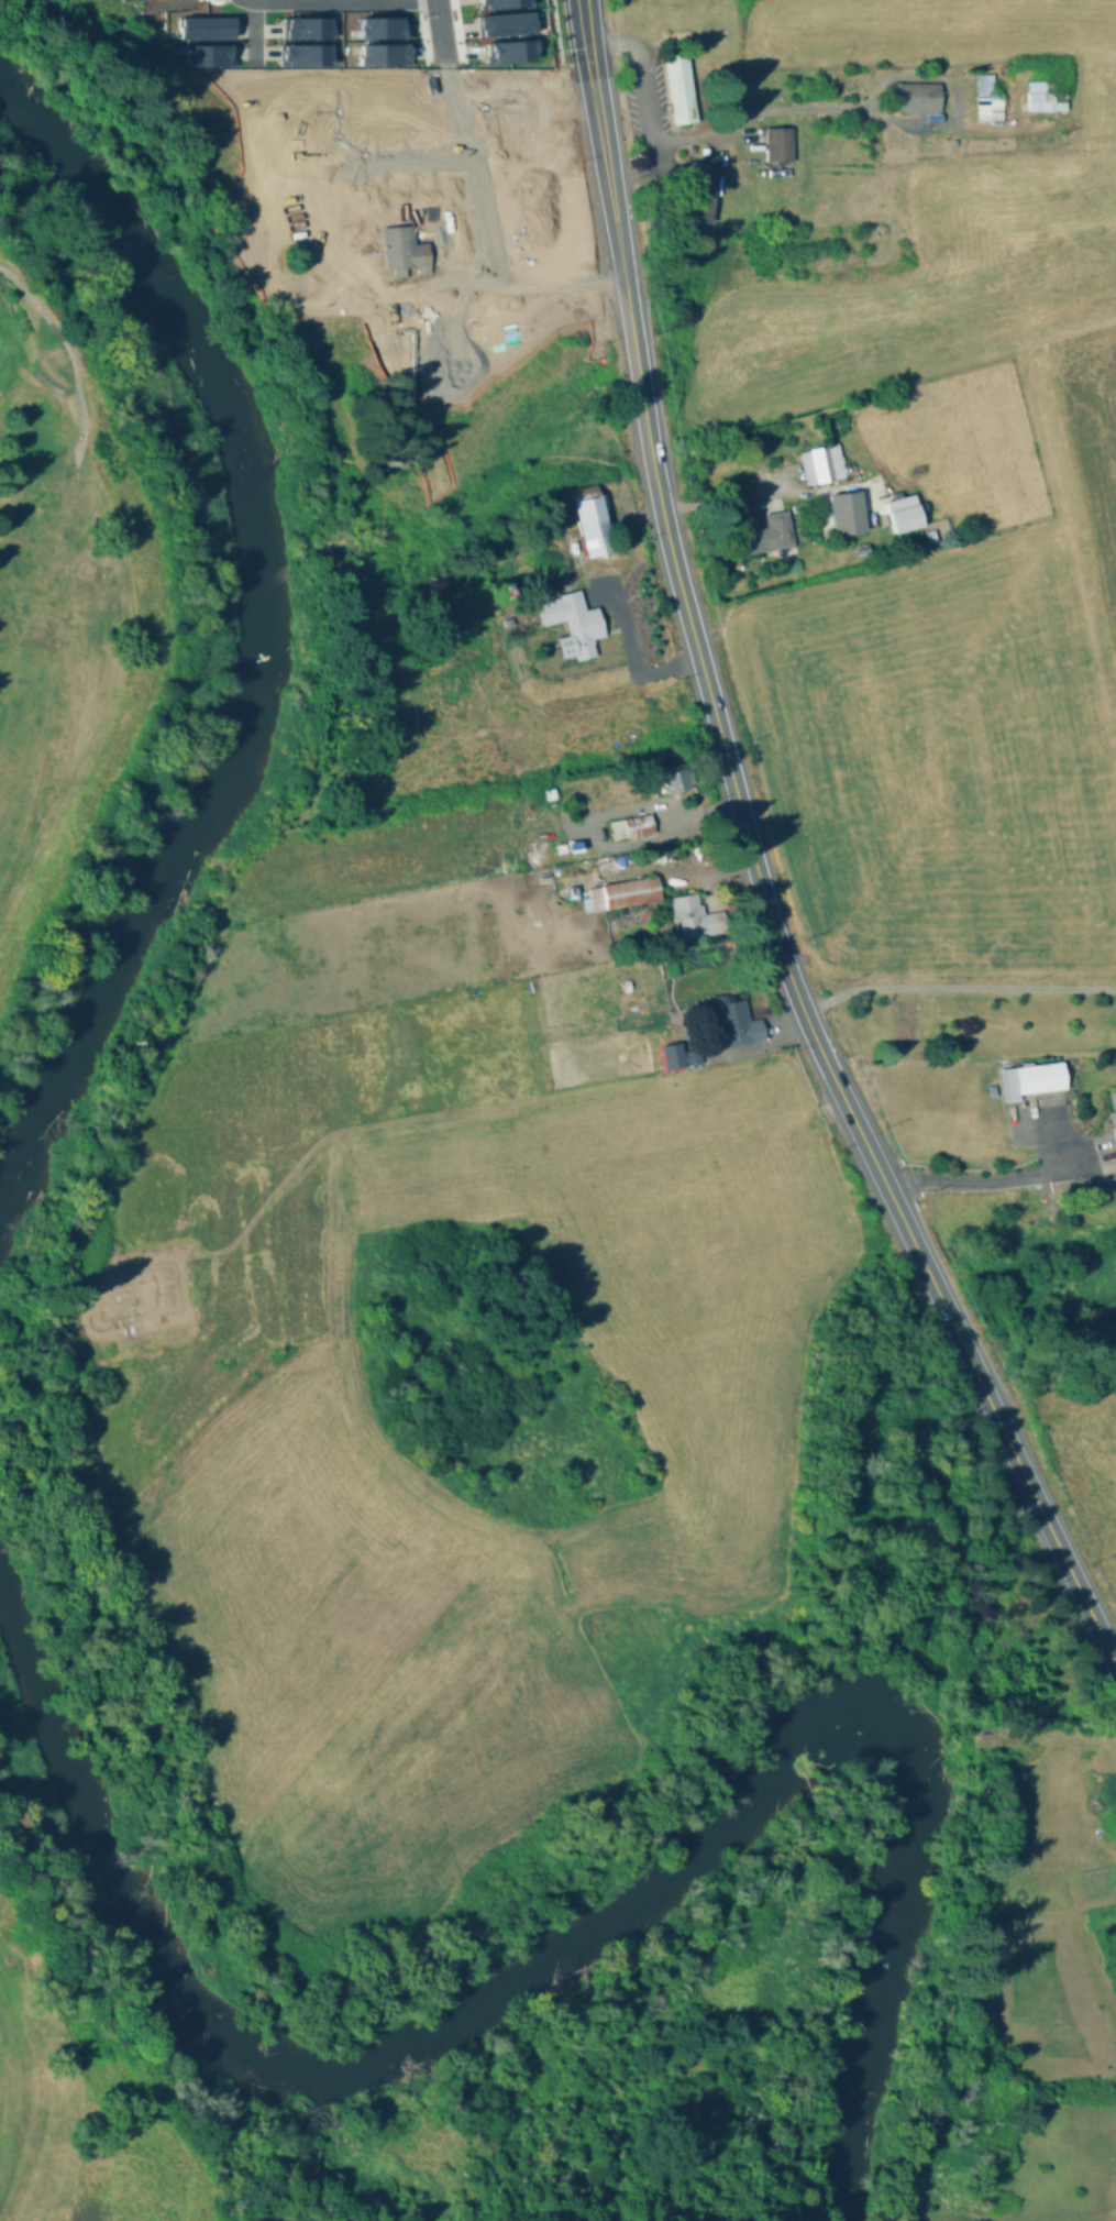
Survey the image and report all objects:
road: (344, 0)
building: (497, 2)
road: (167, 3)
road: (57, 6)
building: (501, 22)
road: (1008, 23)
building: (200, 25)
building: (301, 26)
building: (377, 26)
road: (252, 30)
road: (126, 32)
road: (585, 33)
road: (101, 42)
street lamp: (562, 48)
building: (506, 50)
building: (379, 53)
building: (202, 54)
building: (299, 54)
building: (296, 83)
building: (510, 86)
building: (676, 88)
building: (369, 94)
building: (911, 96)
building: (1040, 96)
building: (984, 98)
parking lot: (639, 102)
road: (826, 106)
building: (354, 107)
road: (642, 107)
building: (295, 109)
building: (517, 109)
building: (380, 111)
building: (408, 113)
road: (458, 113)
building: (397, 116)
building: (296, 134)
building: (521, 134)
road: (333, 135)
road: (465, 140)
building: (775, 142)
road: (440, 153)
road: (417, 157)
building: (529, 161)
building: (296, 162)
street lamp: (578, 167)
road: (354, 169)
road: (576, 172)
road: (310, 180)
road: (476, 186)
building: (535, 187)
road: (266, 190)
building: (696, 190)
road: (255, 199)
building: (417, 204)
building: (442, 204)
building: (393, 210)
building: (538, 215)
building: (366, 218)
building: (339, 221)
road: (615, 221)
road: (461, 230)
building: (544, 242)
building: (398, 246)
building: (405, 265)
building: (544, 271)
street lamp: (596, 278)
road: (466, 292)
building: (406, 295)
building: (543, 300)
road: (420, 315)
road: (432, 323)
road: (526, 325)
road: (529, 330)
building: (482, 344)
road: (67, 352)
building: (458, 356)
building: (432, 359)
building: (818, 462)
road: (721, 493)
building: (844, 510)
building: (902, 514)
building: (589, 520)
building: (766, 535)
park: (67, 573)
building: (568, 622)
river: (255, 642)
road: (628, 648)
building: (675, 778)
road: (737, 798)
building: (631, 826)
building: (623, 893)
building: (694, 919)
road: (957, 988)
building: (906, 1023)
building: (732, 1024)
building: (677, 1056)
building: (1032, 1078)
building: (1113, 1112)
road: (1052, 1132)
road: (994, 1178)
road: (939, 1297)
road: (1050, 1528)
river: (883, 1947)
river: (341, 2050)
park: (446, 2085)

